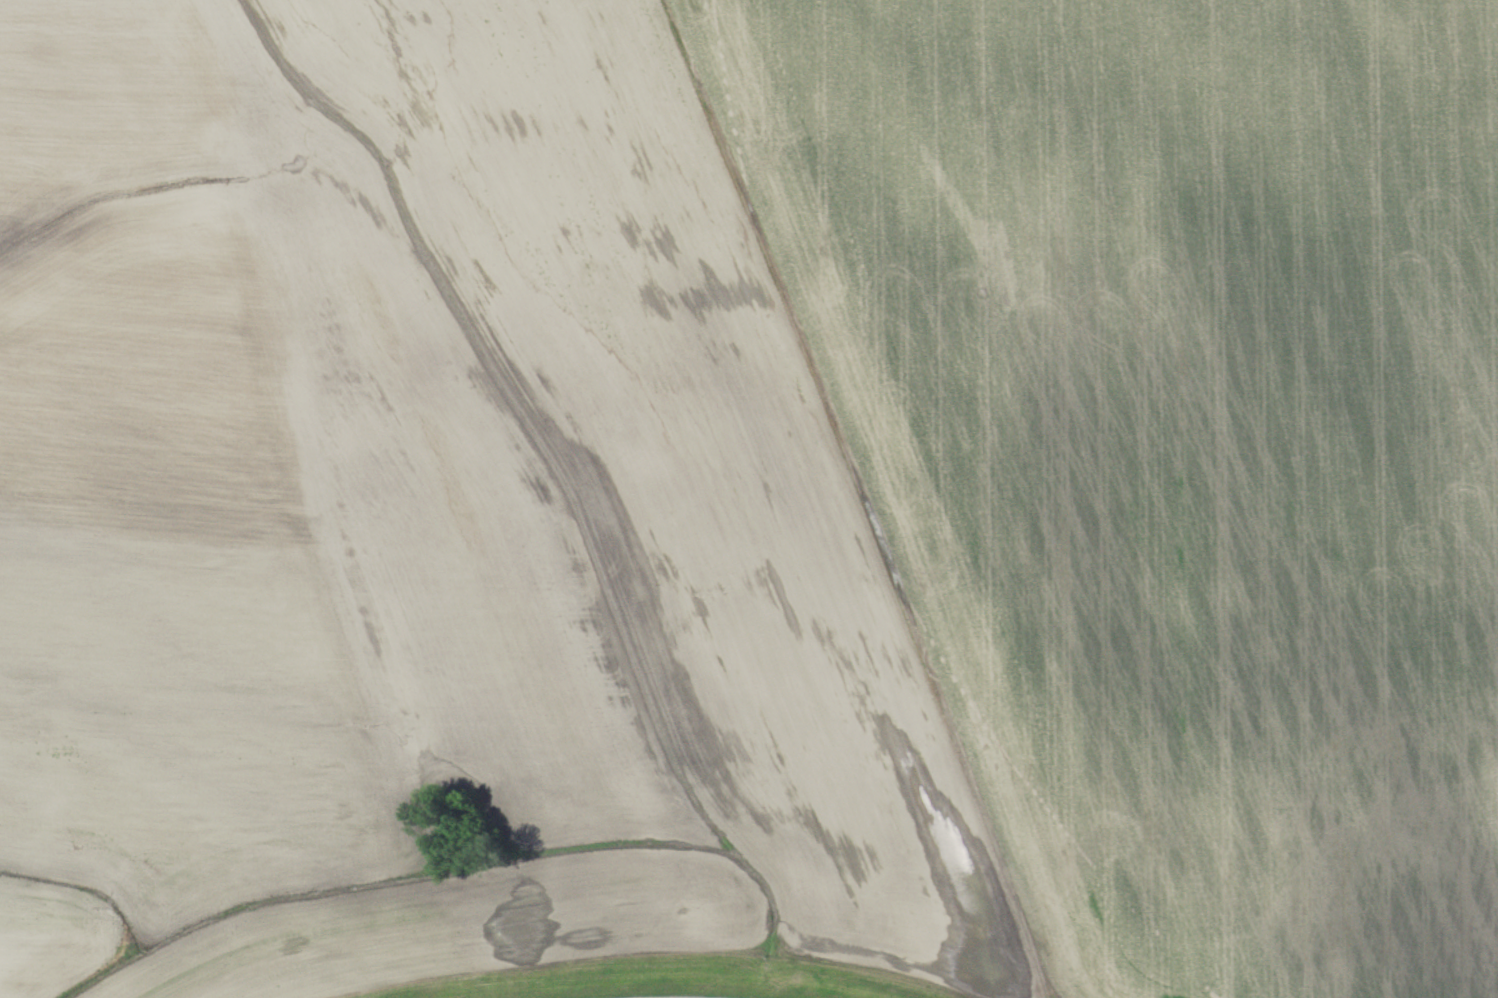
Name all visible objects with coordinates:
crop: (379, 187)
crop: (1169, 448)
crop: (442, 546)
crop: (280, 799)
crop: (855, 851)
crop: (460, 926)
crop: (56, 936)

